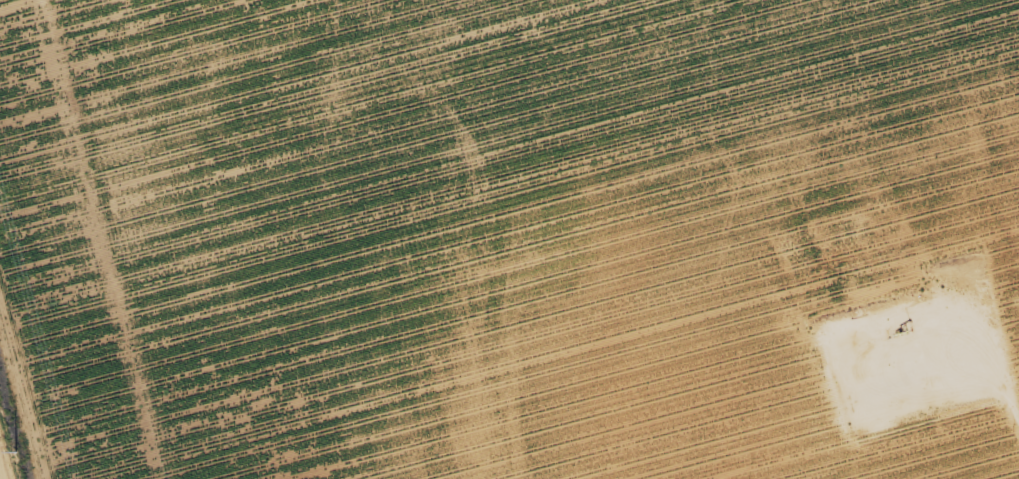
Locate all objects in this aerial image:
power tower: (11, 445)

